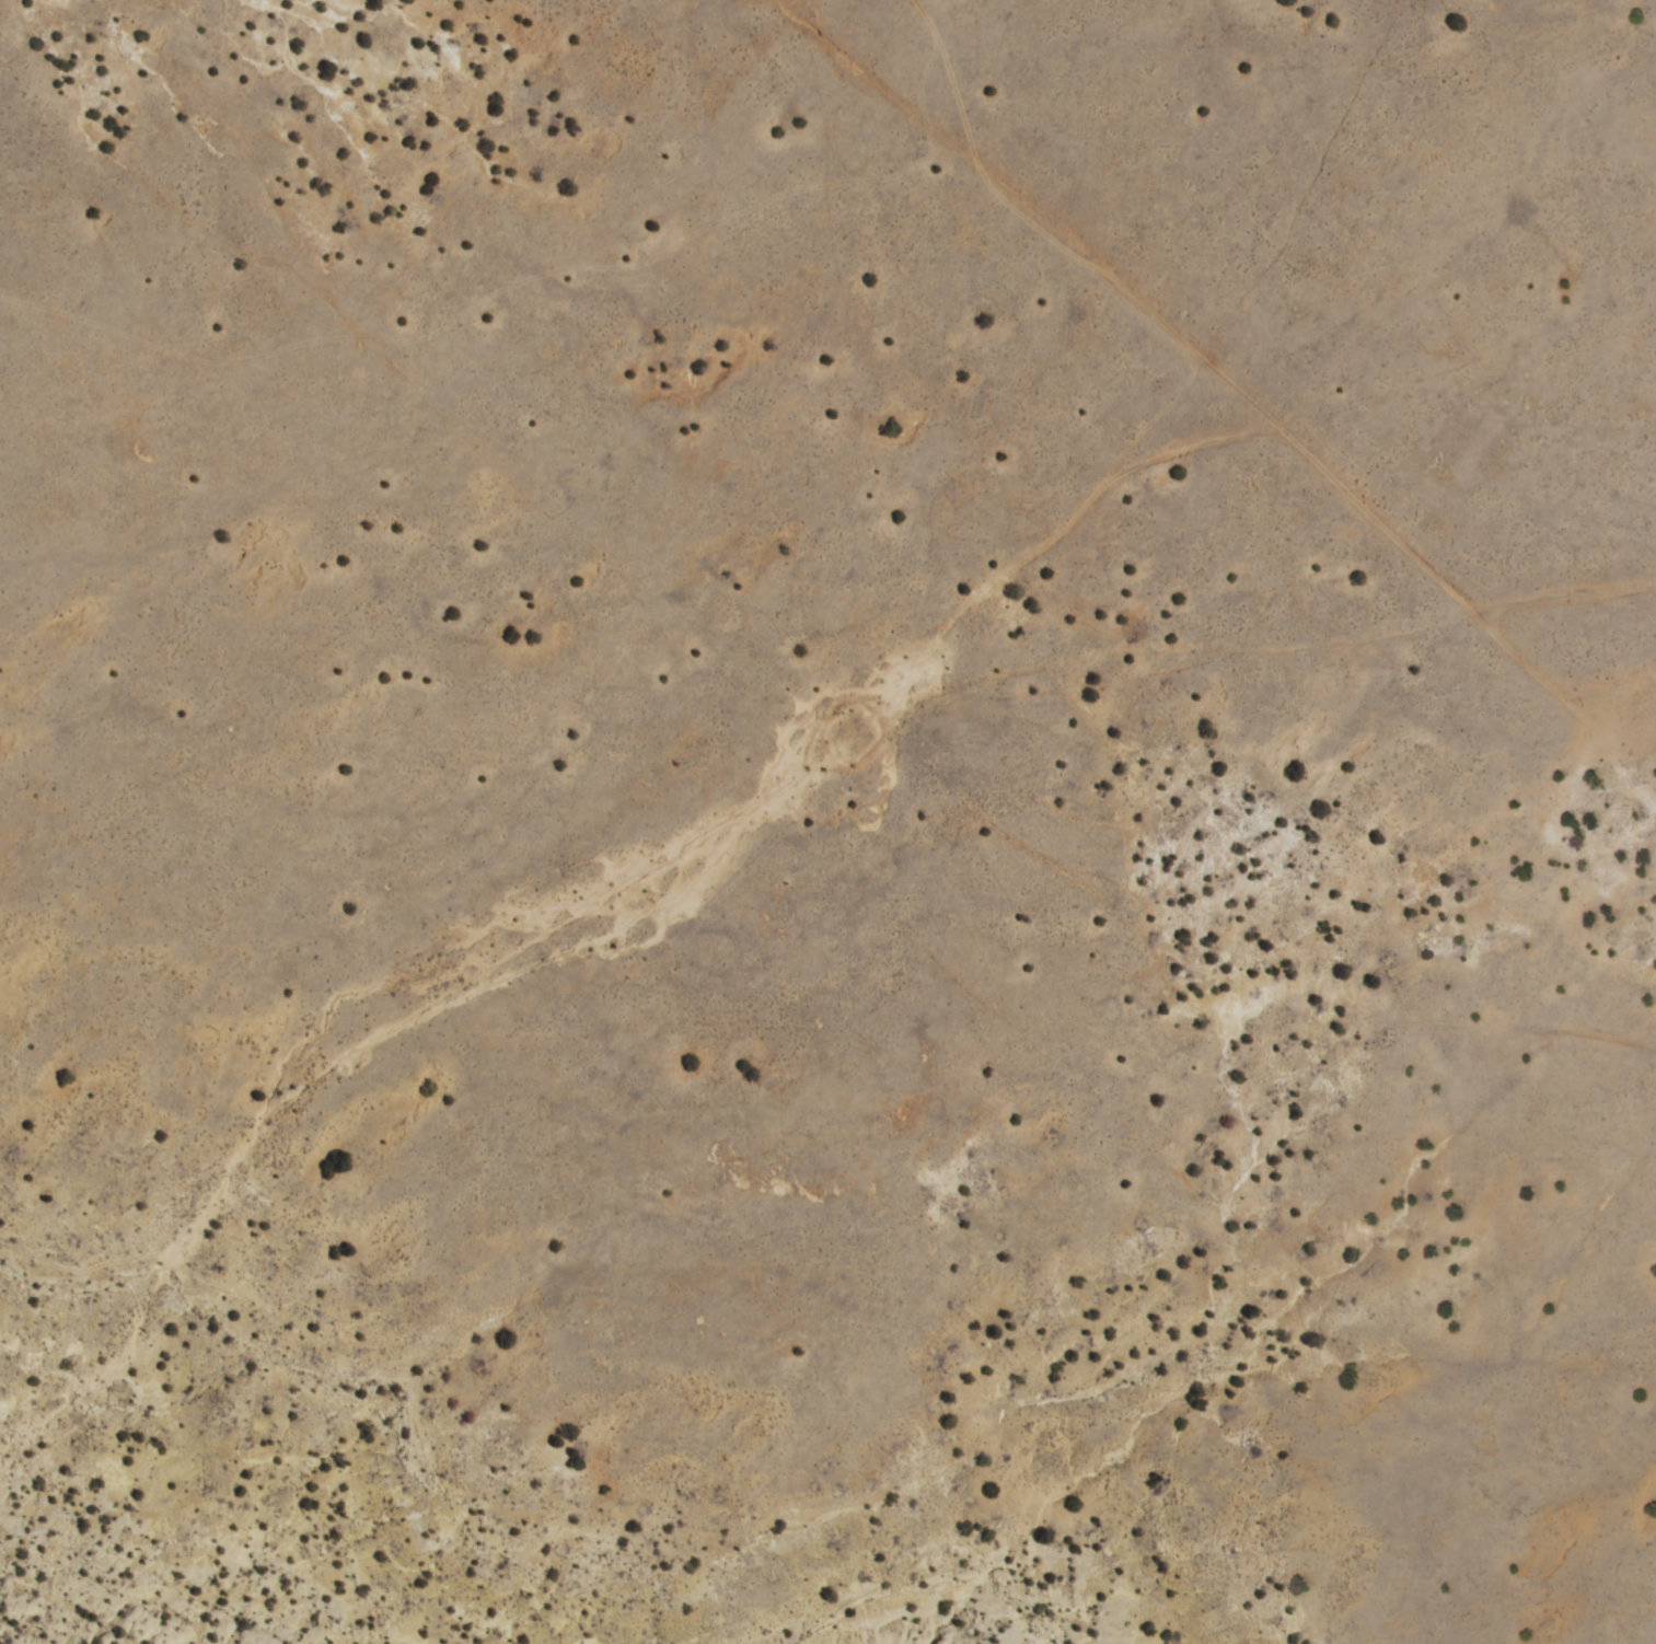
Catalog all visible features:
road: (1239, 356)

